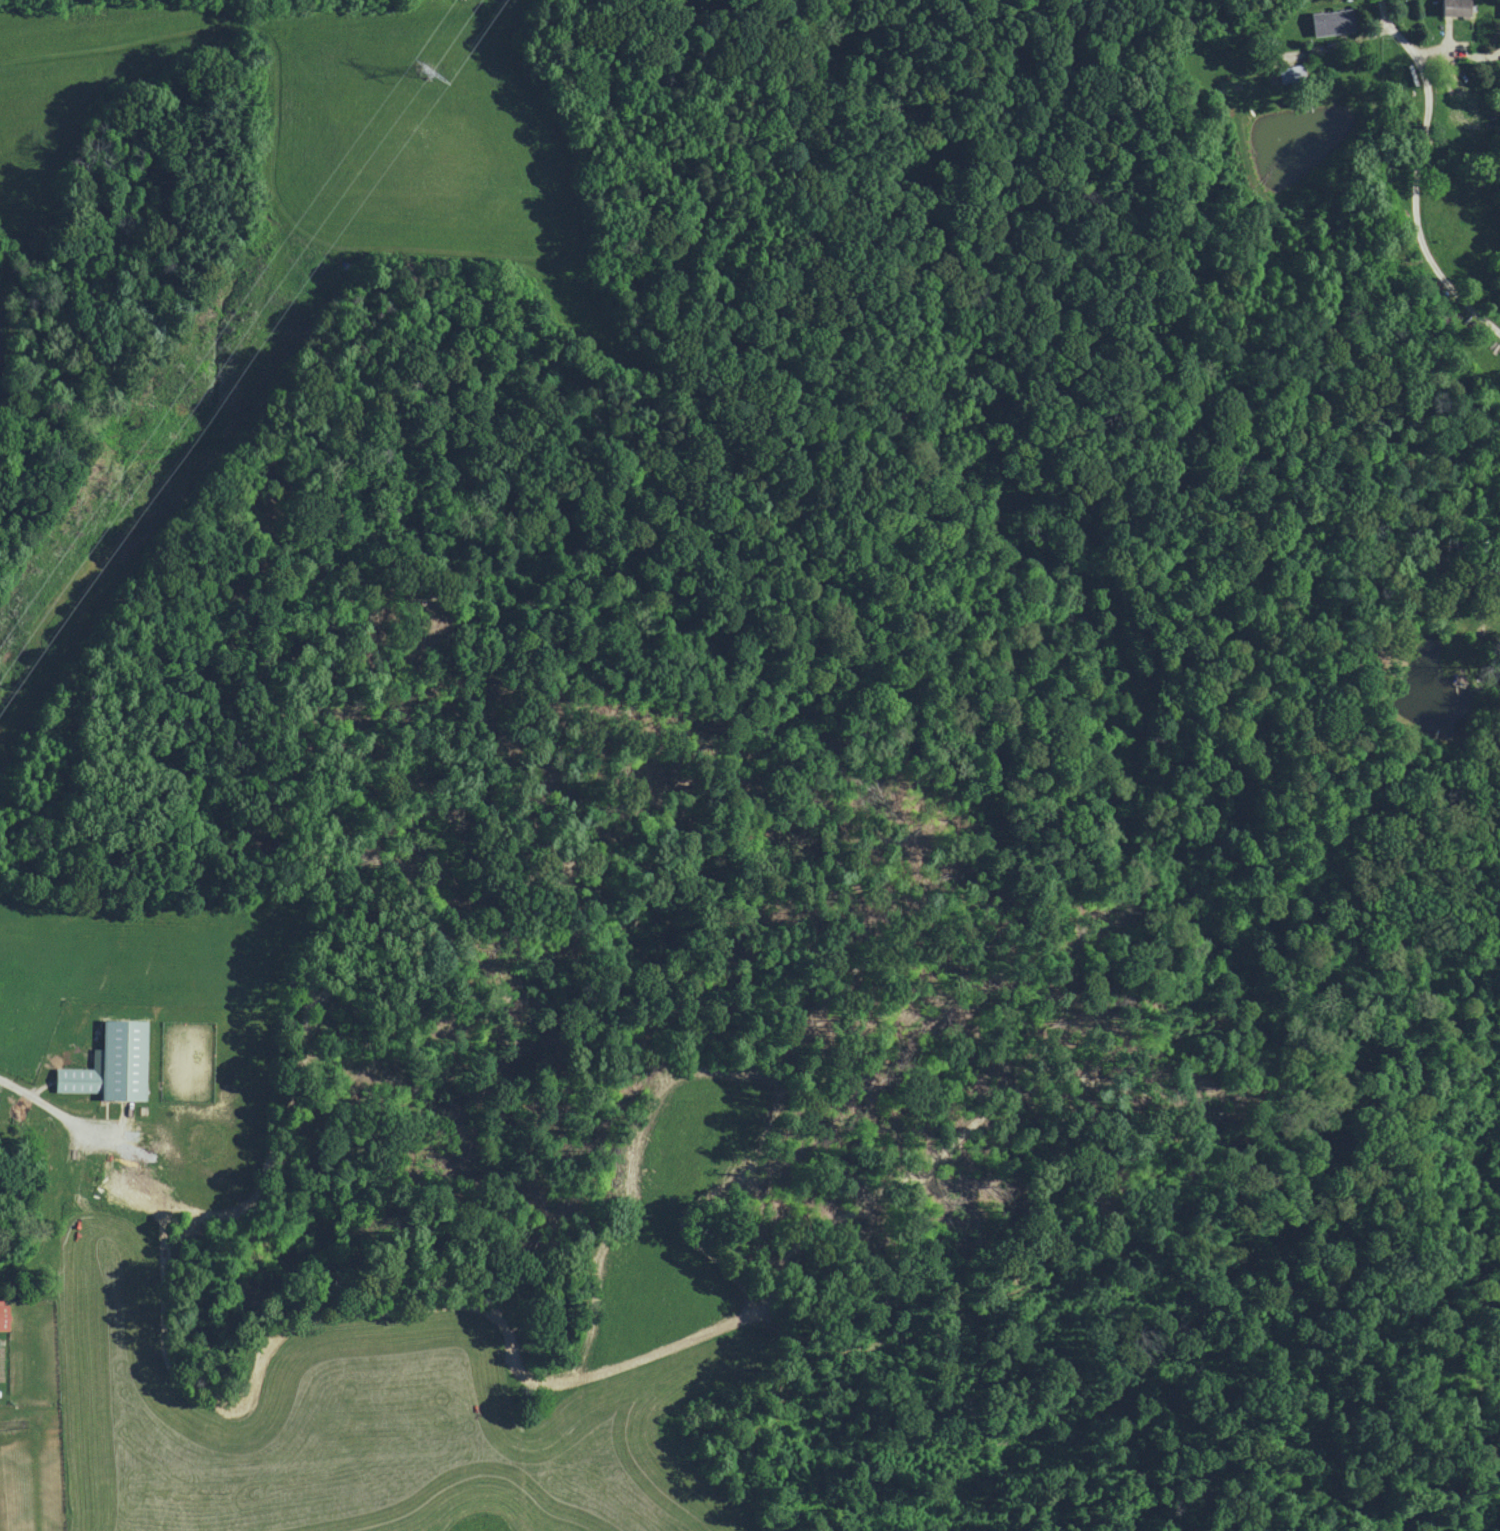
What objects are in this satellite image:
building: (1450, 7)
building: (1330, 21)
road: (1289, 24)
power tower: (427, 74)
road: (1422, 173)
building: (108, 1064)
road: (24, 1093)
building: (2, 1316)

